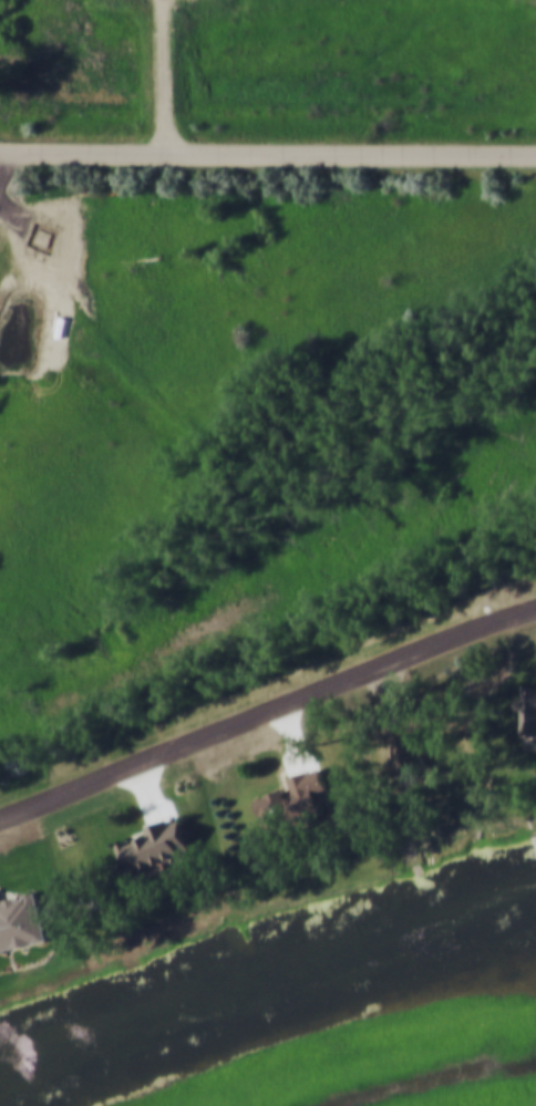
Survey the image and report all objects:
road: (267, 159)
building: (529, 709)
road: (268, 717)
road: (298, 742)
building: (411, 751)
road: (153, 794)
building: (297, 802)
building: (157, 847)
building: (21, 922)
river: (267, 983)

